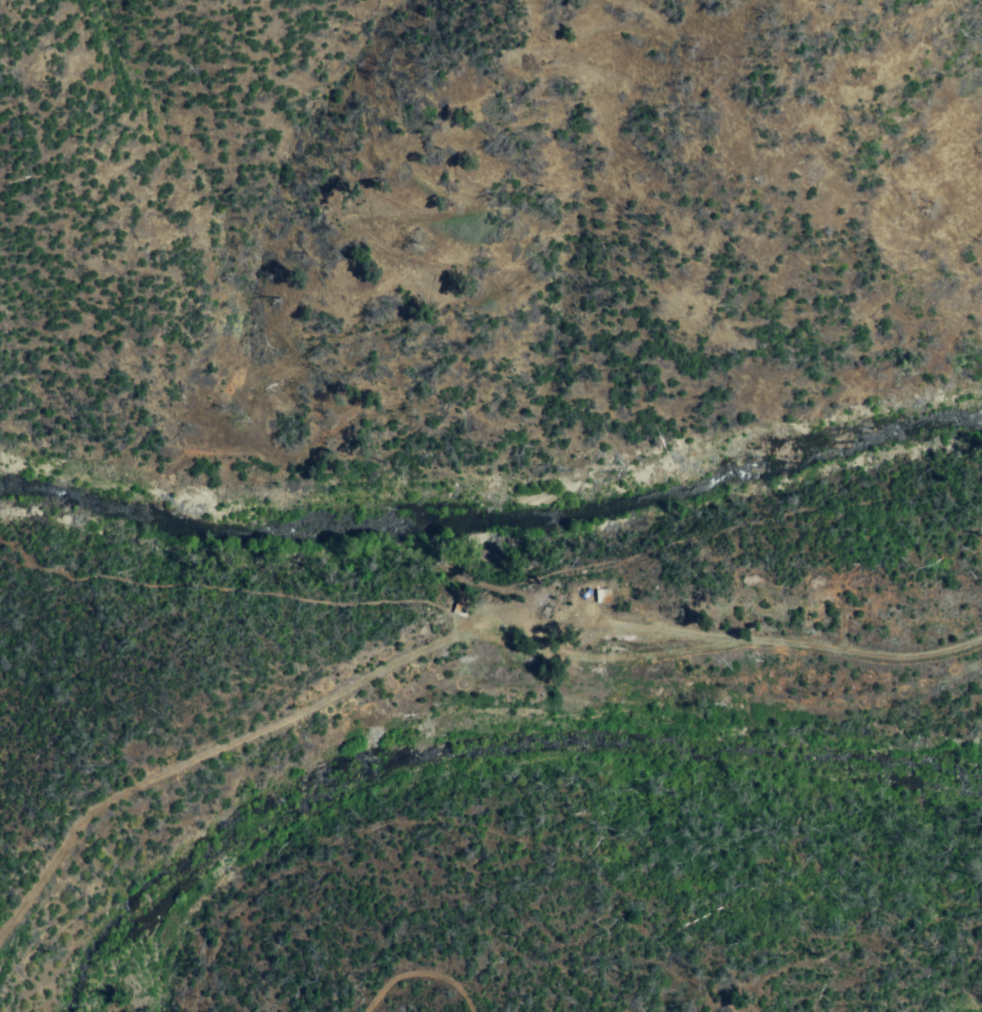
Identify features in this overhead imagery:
river: (492, 516)
road: (798, 644)
river: (539, 741)

